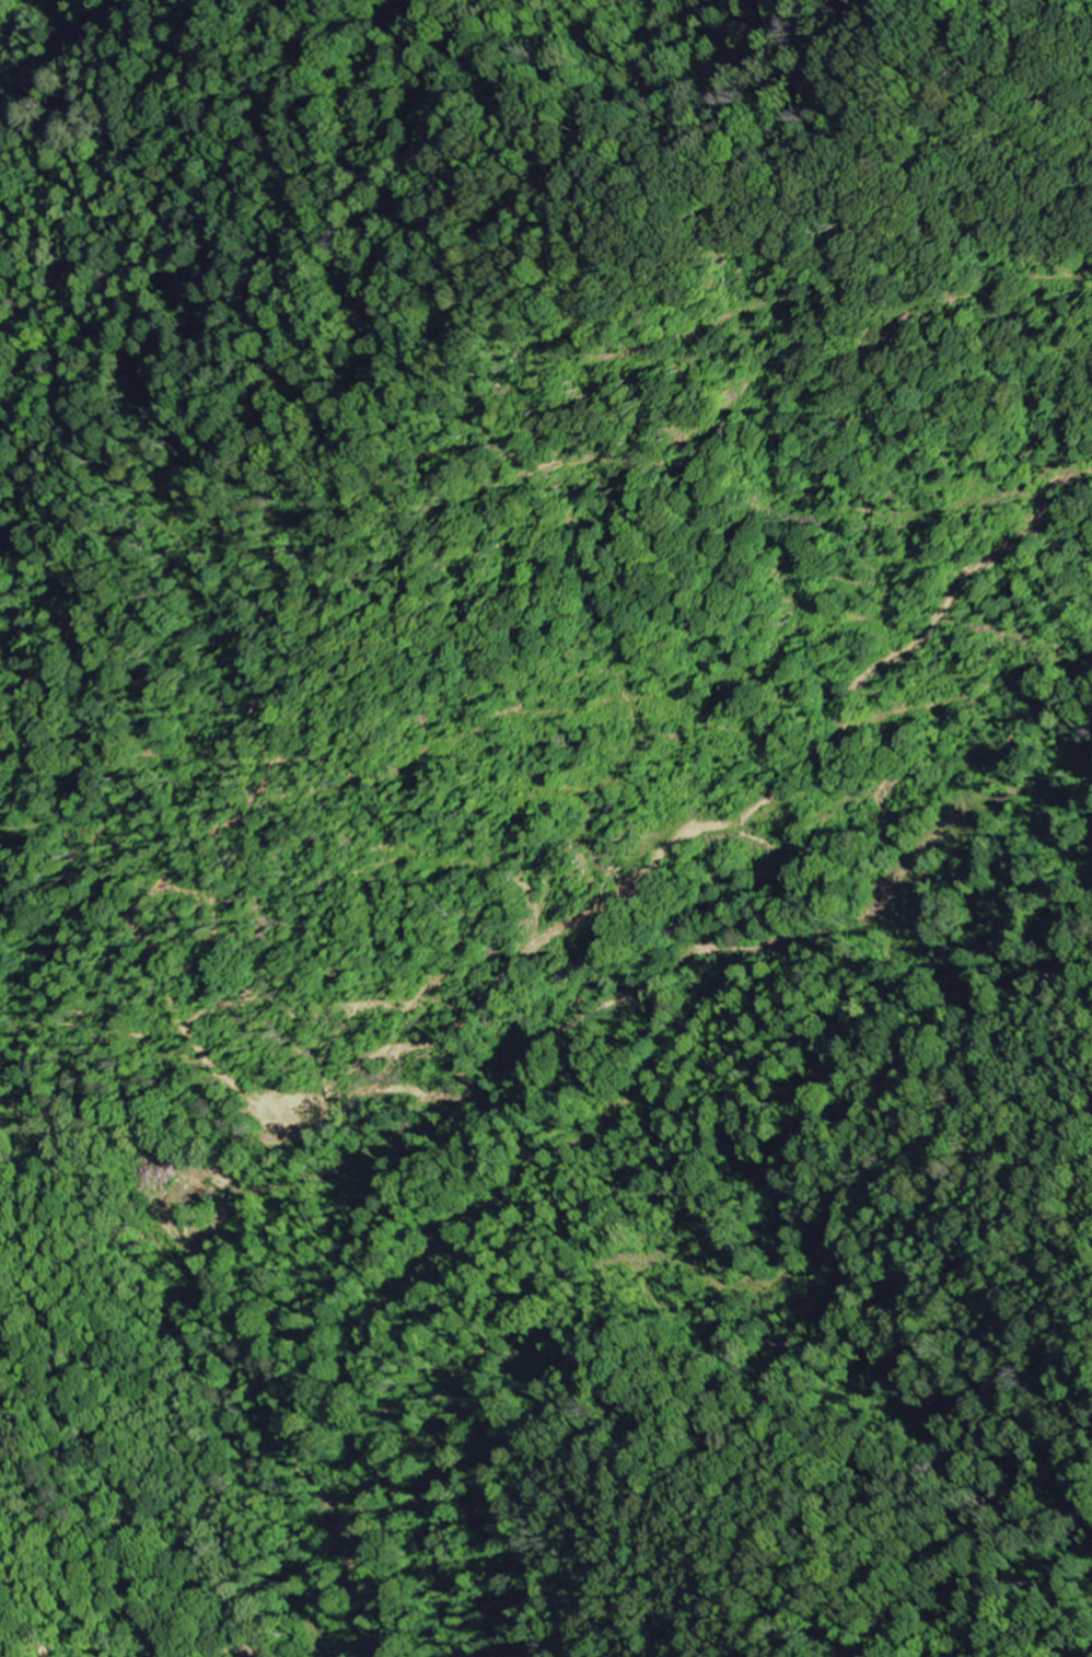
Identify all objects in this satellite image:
road: (72, 1175)

